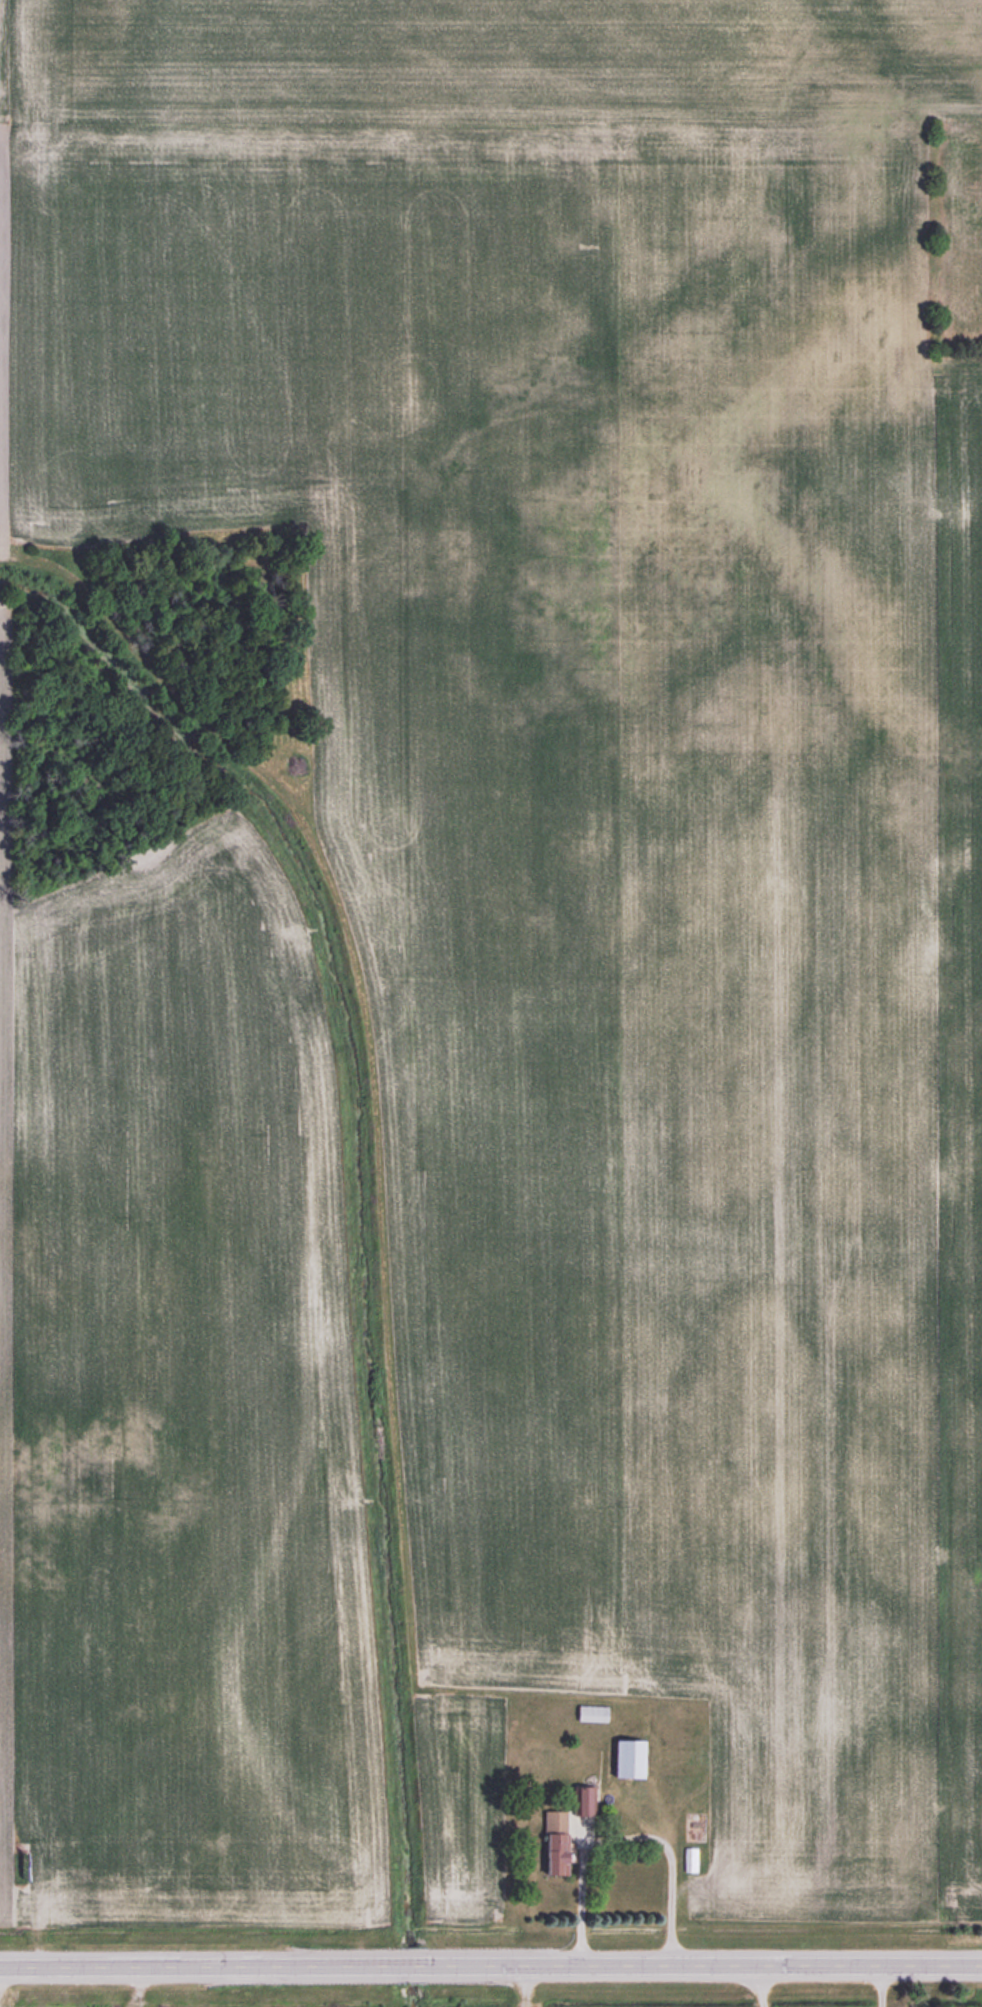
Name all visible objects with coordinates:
building: (591, 1713)
building: (626, 1758)
building: (583, 1800)
road: (620, 1835)
building: (554, 1843)
building: (690, 1860)
road: (491, 1966)
road: (876, 1986)
road: (753, 1987)

